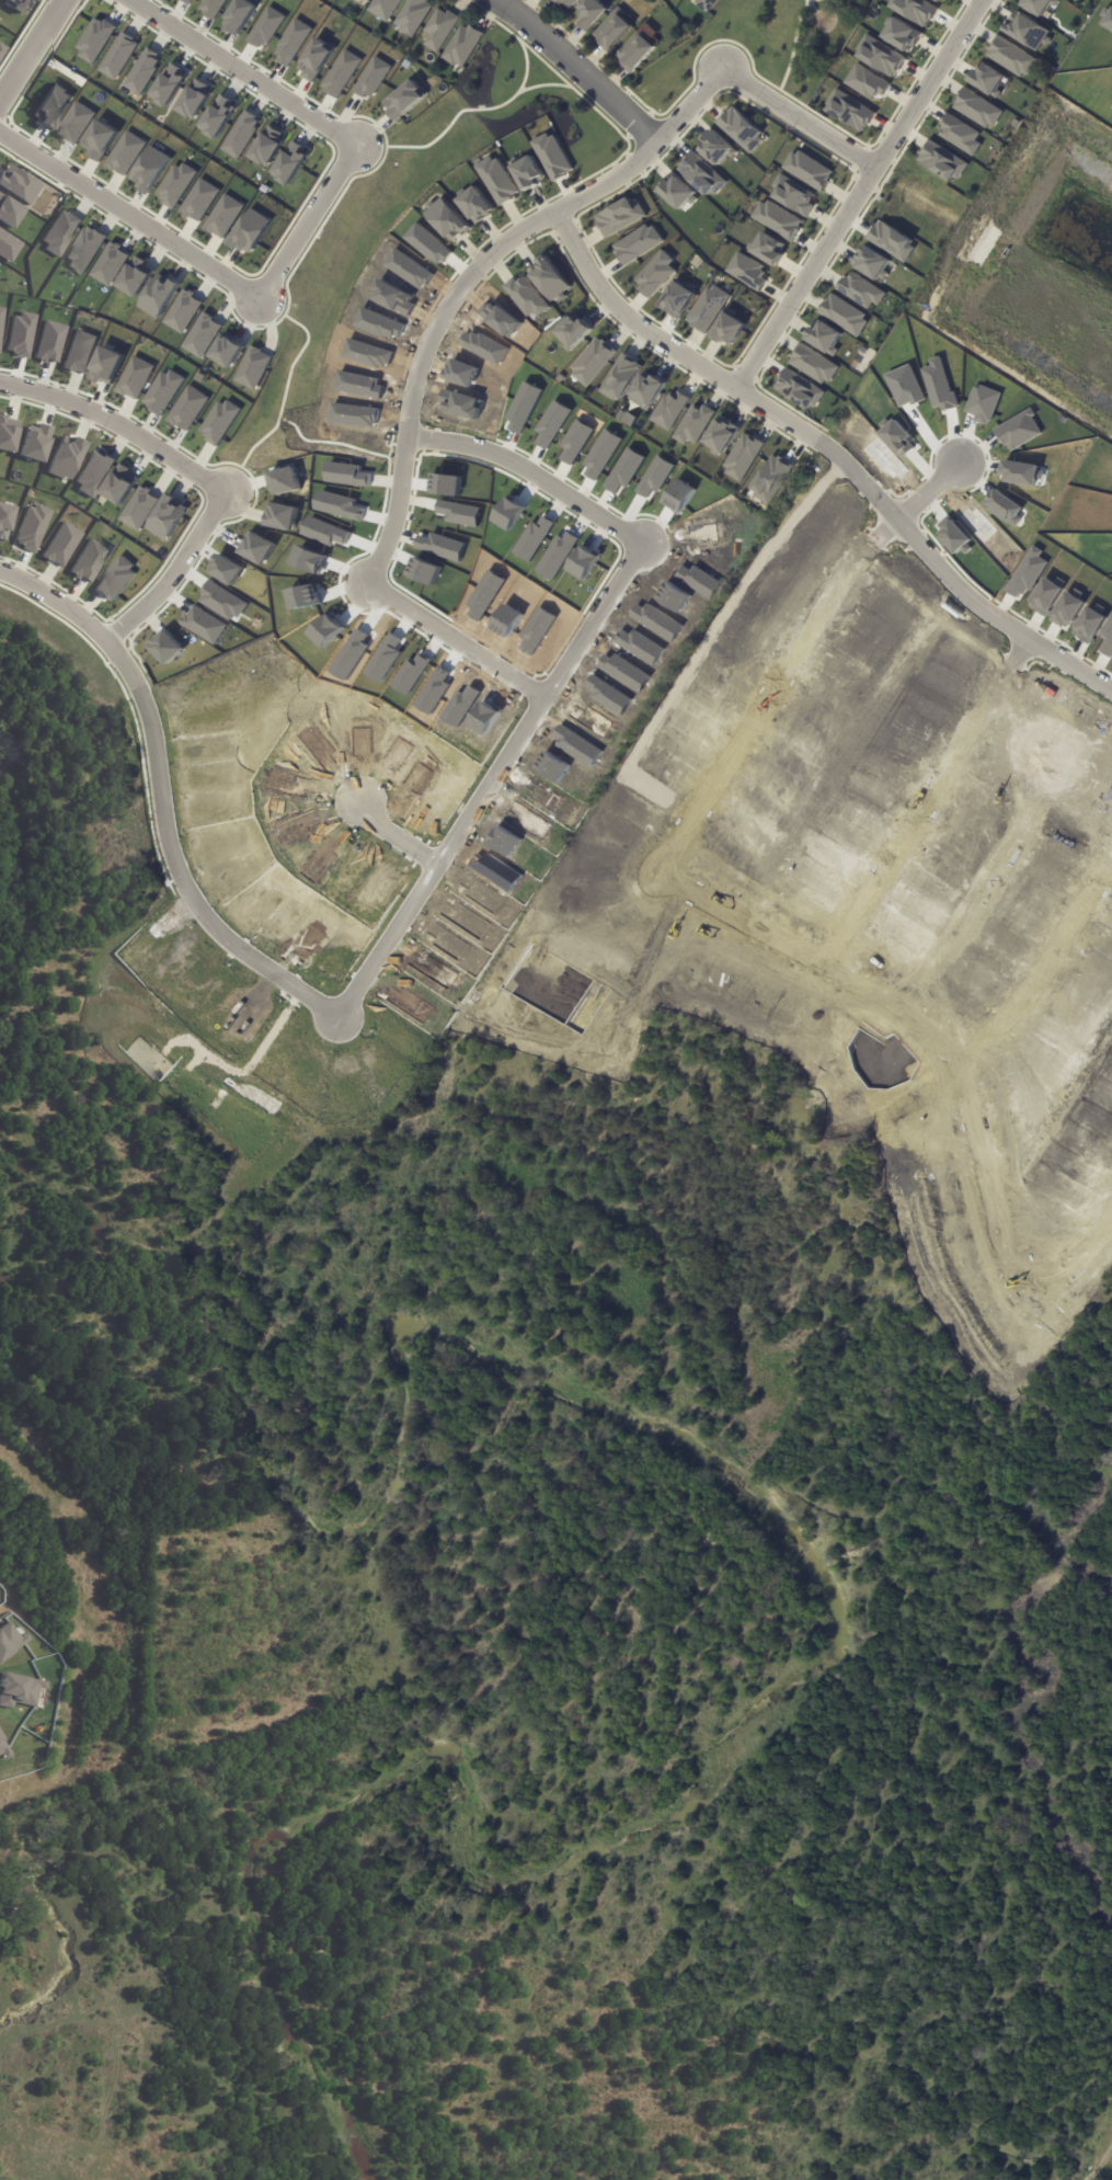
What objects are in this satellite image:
building: (366, 0)
building: (368, 0)
building: (939, 0)
building: (942, 0)
building: (1075, 0)
building: (191, 1)
building: (566, 3)
building: (18, 4)
building: (707, 5)
building: (1035, 5)
building: (213, 8)
building: (386, 9)
building: (914, 10)
building: (592, 13)
building: (240, 16)
building: (414, 16)
building: (265, 28)
building: (440, 30)
building: (615, 31)
building: (896, 31)
building: (1027, 33)
building: (94, 39)
building: (291, 43)
building: (463, 46)
building: (0, 47)
road: (31, 47)
building: (637, 53)
building: (878, 55)
building: (118, 56)
building: (1010, 57)
building: (316, 59)
road: (576, 70)
building: (142, 71)
road: (242, 71)
building: (341, 73)
building: (372, 78)
building: (986, 79)
building: (863, 81)
building: (169, 85)
building: (194, 99)
building: (404, 100)
building: (51, 106)
building: (977, 110)
building: (849, 111)
building: (217, 117)
building: (74, 123)
building: (742, 128)
building: (241, 135)
building: (959, 135)
building: (100, 140)
building: (267, 146)
building: (718, 147)
building: (125, 153)
building: (553, 156)
building: (942, 161)
building: (289, 164)
building: (807, 169)
building: (149, 170)
building: (530, 172)
building: (702, 174)
building: (497, 180)
building: (18, 185)
building: (174, 185)
building: (678, 191)
road: (857, 194)
building: (793, 195)
building: (199, 201)
building: (477, 204)
building: (9, 212)
road: (128, 216)
building: (620, 216)
building: (223, 217)
building: (449, 219)
road: (306, 220)
road: (539, 220)
building: (777, 221)
building: (250, 231)
building: (59, 232)
building: (891, 241)
building: (639, 243)
building: (763, 246)
building: (8, 247)
building: (84, 250)
building: (872, 263)
building: (108, 264)
building: (747, 269)
building: (656, 273)
building: (136, 277)
building: (550, 278)
building: (860, 290)
building: (158, 296)
building: (527, 296)
building: (677, 300)
building: (707, 309)
building: (182, 311)
building: (842, 315)
building: (730, 330)
building: (574, 332)
building: (20, 334)
building: (202, 335)
building: (824, 336)
building: (49, 342)
building: (227, 351)
building: (79, 352)
building: (592, 363)
building: (813, 364)
building: (106, 366)
building: (252, 368)
building: (619, 377)
building: (135, 378)
building: (799, 389)
building: (162, 391)
building: (642, 395)
building: (186, 409)
building: (668, 410)
building: (218, 422)
road: (115, 424)
building: (692, 424)
building: (7, 434)
building: (721, 436)
building: (34, 443)
road: (829, 452)
building: (742, 457)
building: (65, 458)
road: (527, 471)
building: (93, 472)
building: (771, 479)
building: (284, 481)
building: (121, 484)
road: (926, 490)
building: (138, 509)
building: (282, 516)
building: (168, 517)
building: (4, 520)
building: (32, 527)
building: (61, 545)
building: (257, 549)
building: (89, 561)
road: (170, 570)
building: (116, 579)
building: (221, 601)
building: (204, 625)
road: (451, 640)
building: (167, 648)
building: (710, 726)
road: (486, 777)
road: (159, 796)
road: (926, 802)
road: (392, 836)
road: (733, 920)
road: (1041, 971)
road: (1075, 1255)
park: (344, 1551)
building: (9, 1640)
building: (19, 1690)
building: (3, 1750)

